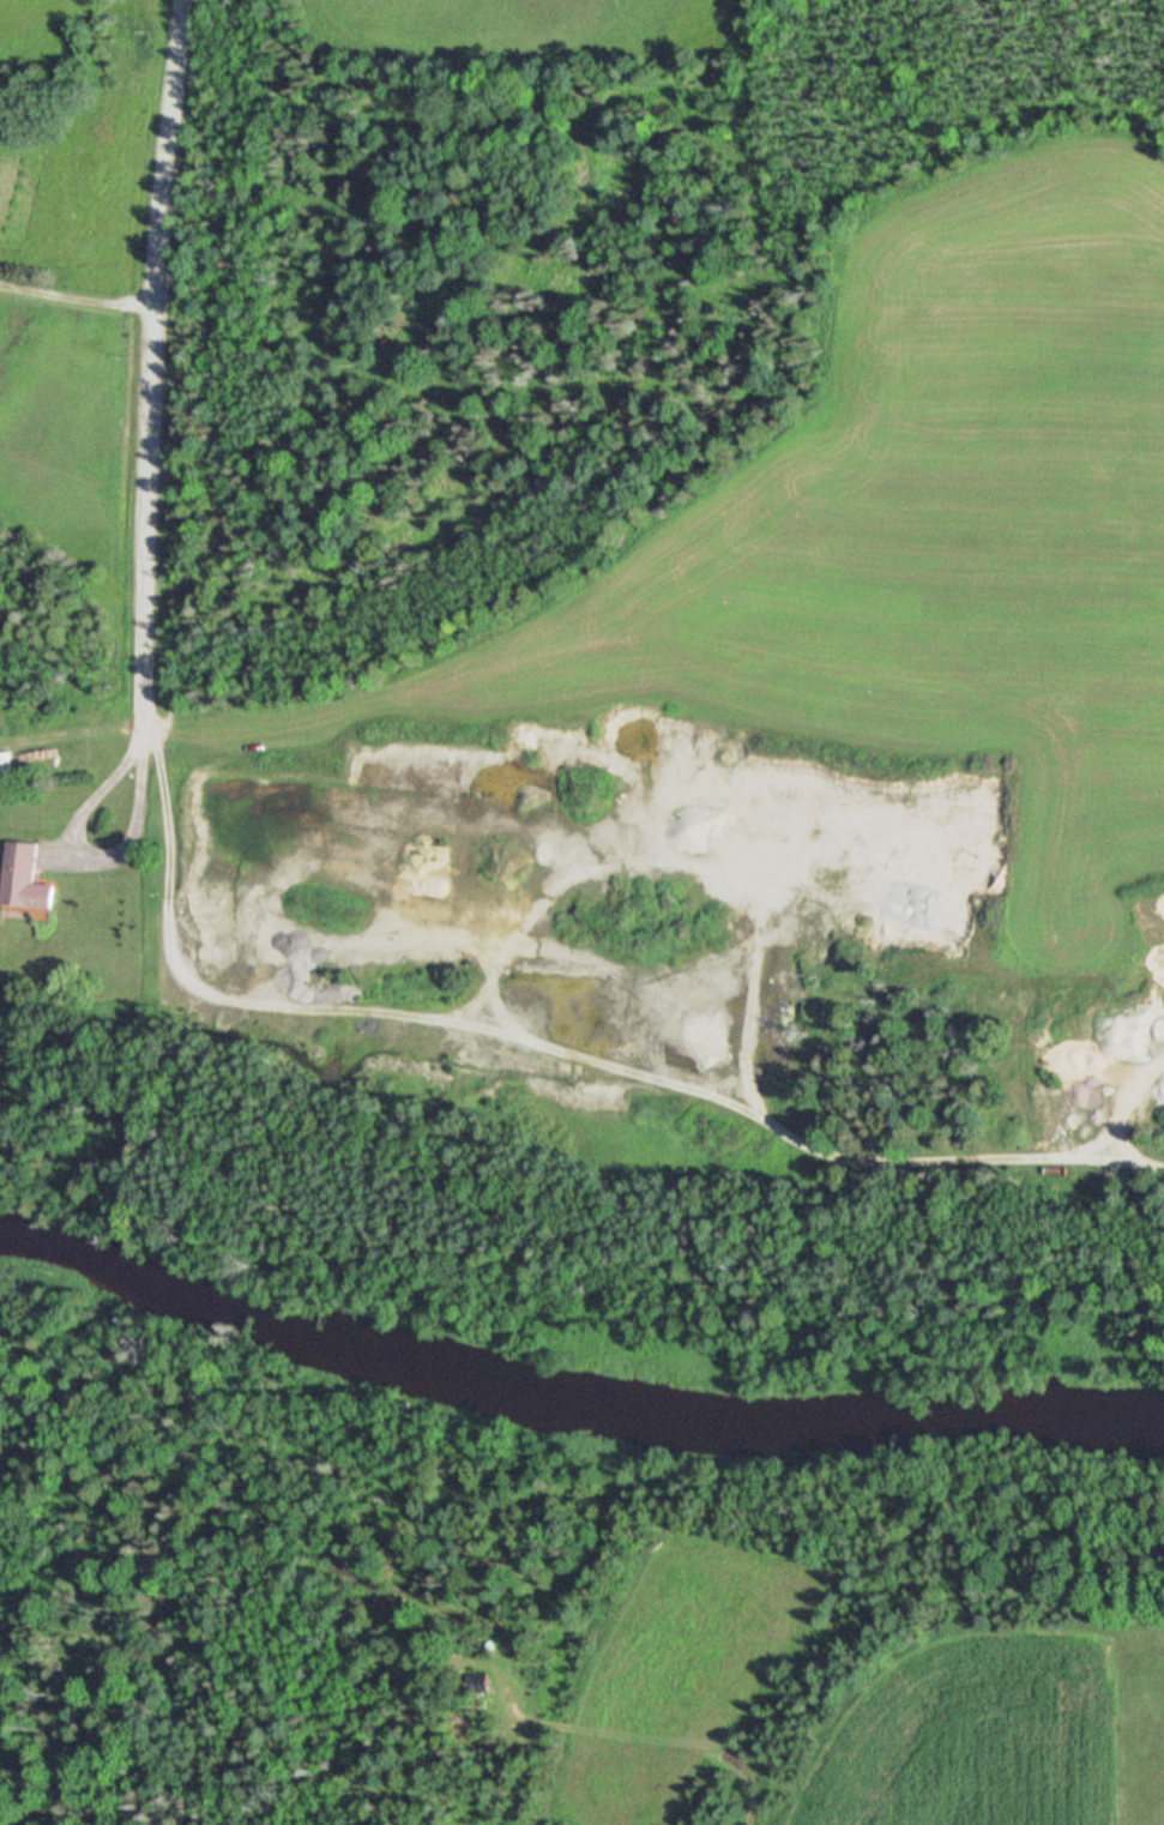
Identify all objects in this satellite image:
road: (74, 301)
road: (146, 367)
road: (88, 856)
building: (23, 880)
road: (549, 1050)
river: (572, 1415)

